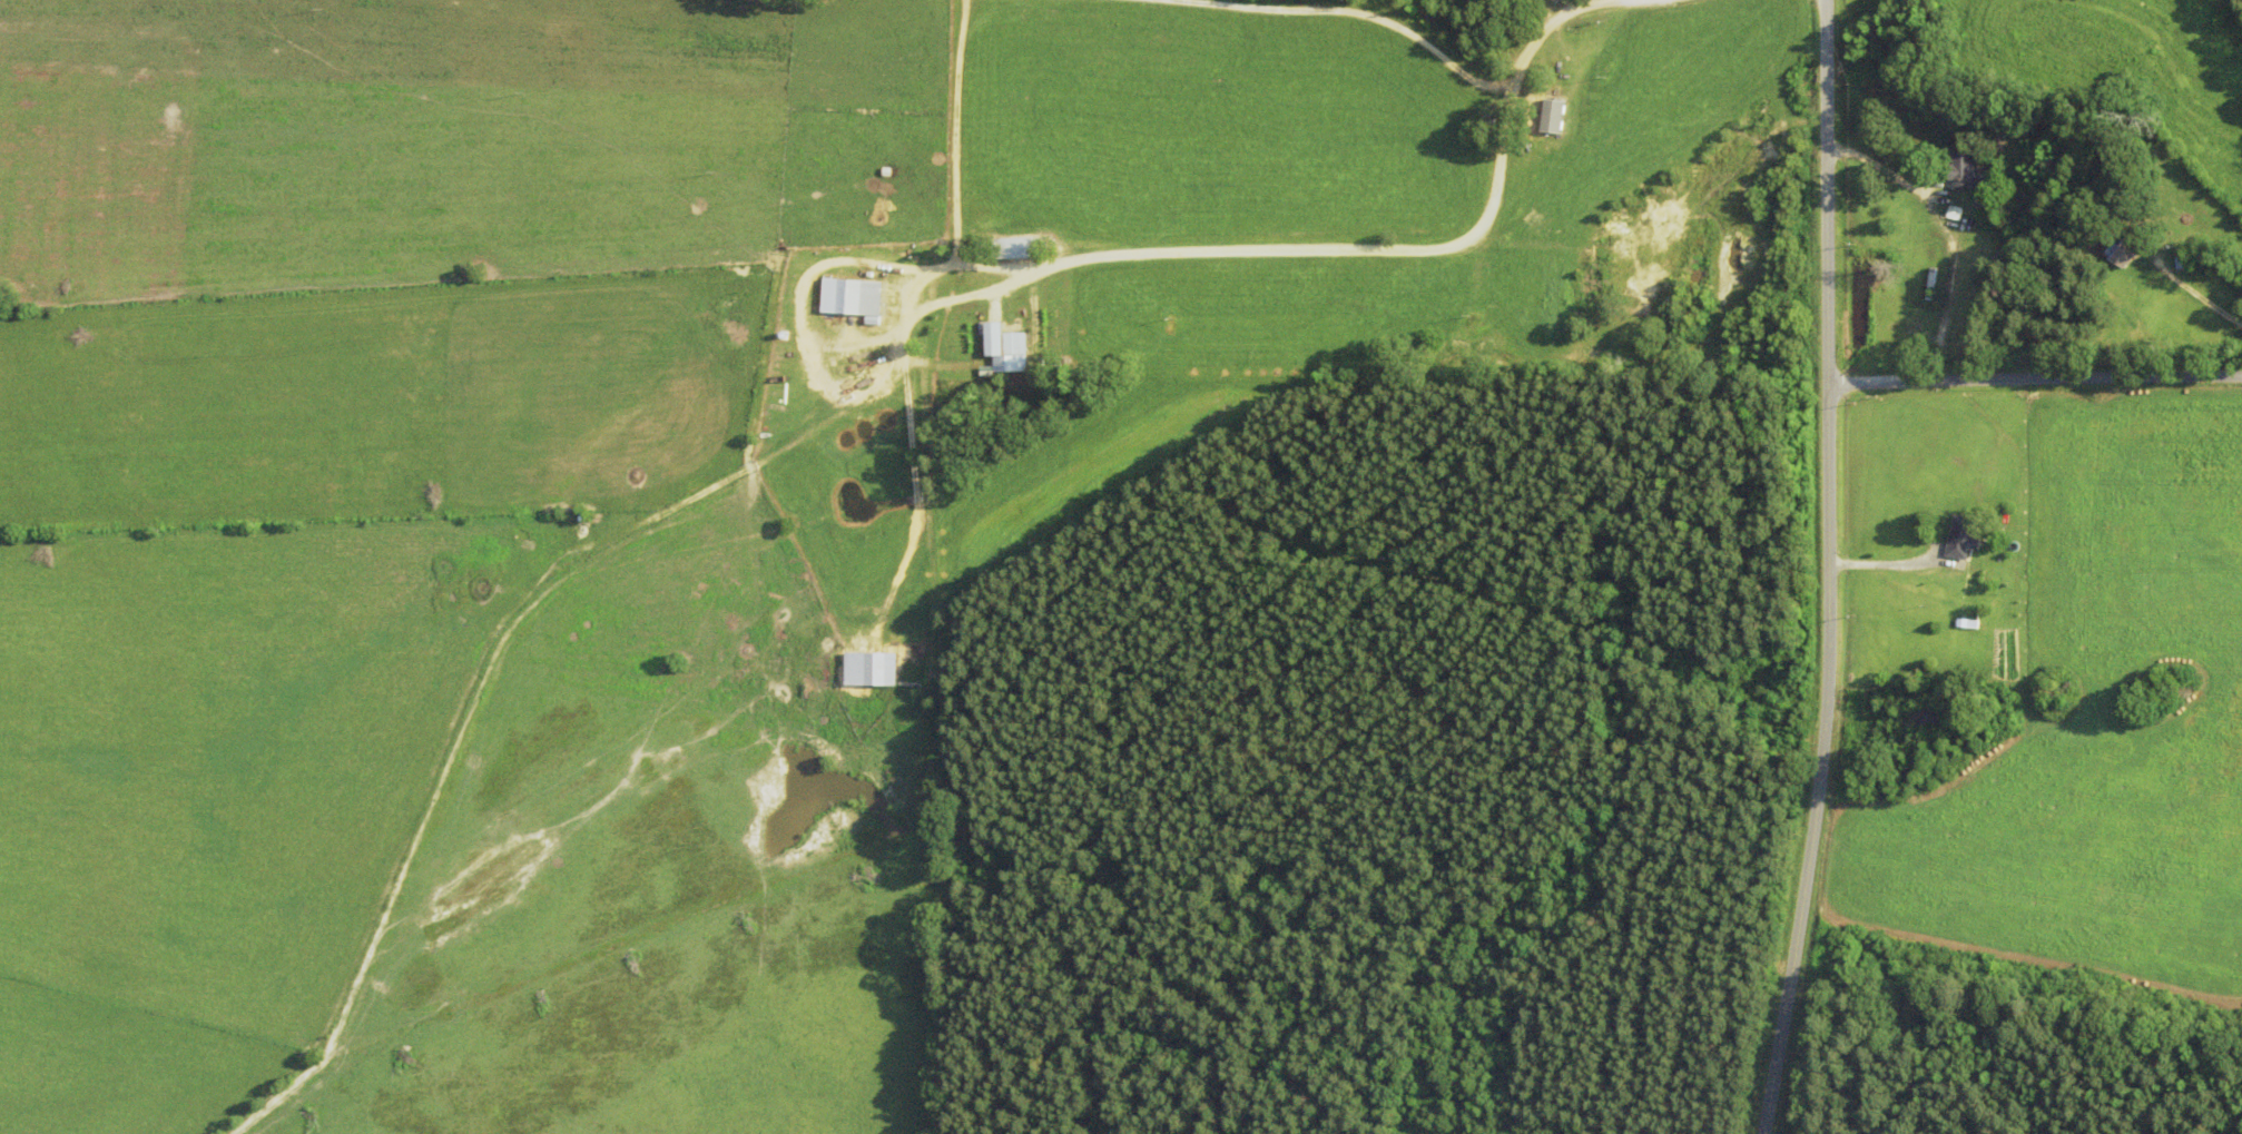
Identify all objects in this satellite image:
building: (1561, 116)
building: (1968, 171)
building: (1021, 249)
building: (2124, 252)
building: (856, 297)
building: (1005, 342)
road: (2034, 381)
building: (1964, 539)
building: (2002, 558)
road: (1828, 569)
building: (878, 670)

